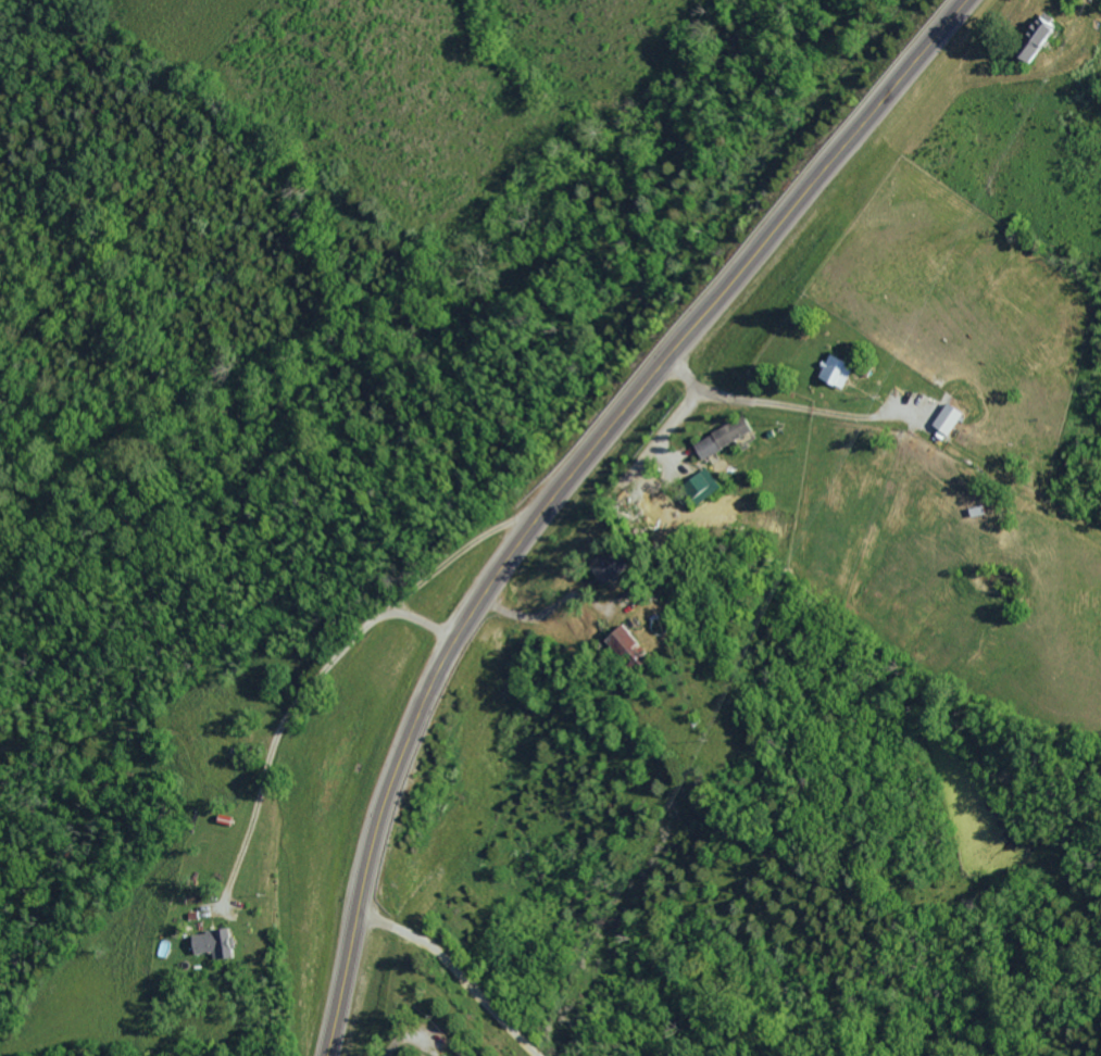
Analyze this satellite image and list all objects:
building: (1043, 35)
building: (842, 368)
road: (784, 403)
building: (956, 416)
building: (728, 436)
road: (565, 481)
building: (706, 485)
building: (621, 566)
building: (631, 639)
road: (330, 653)
building: (224, 942)
road: (230, 1008)
building: (451, 1055)

